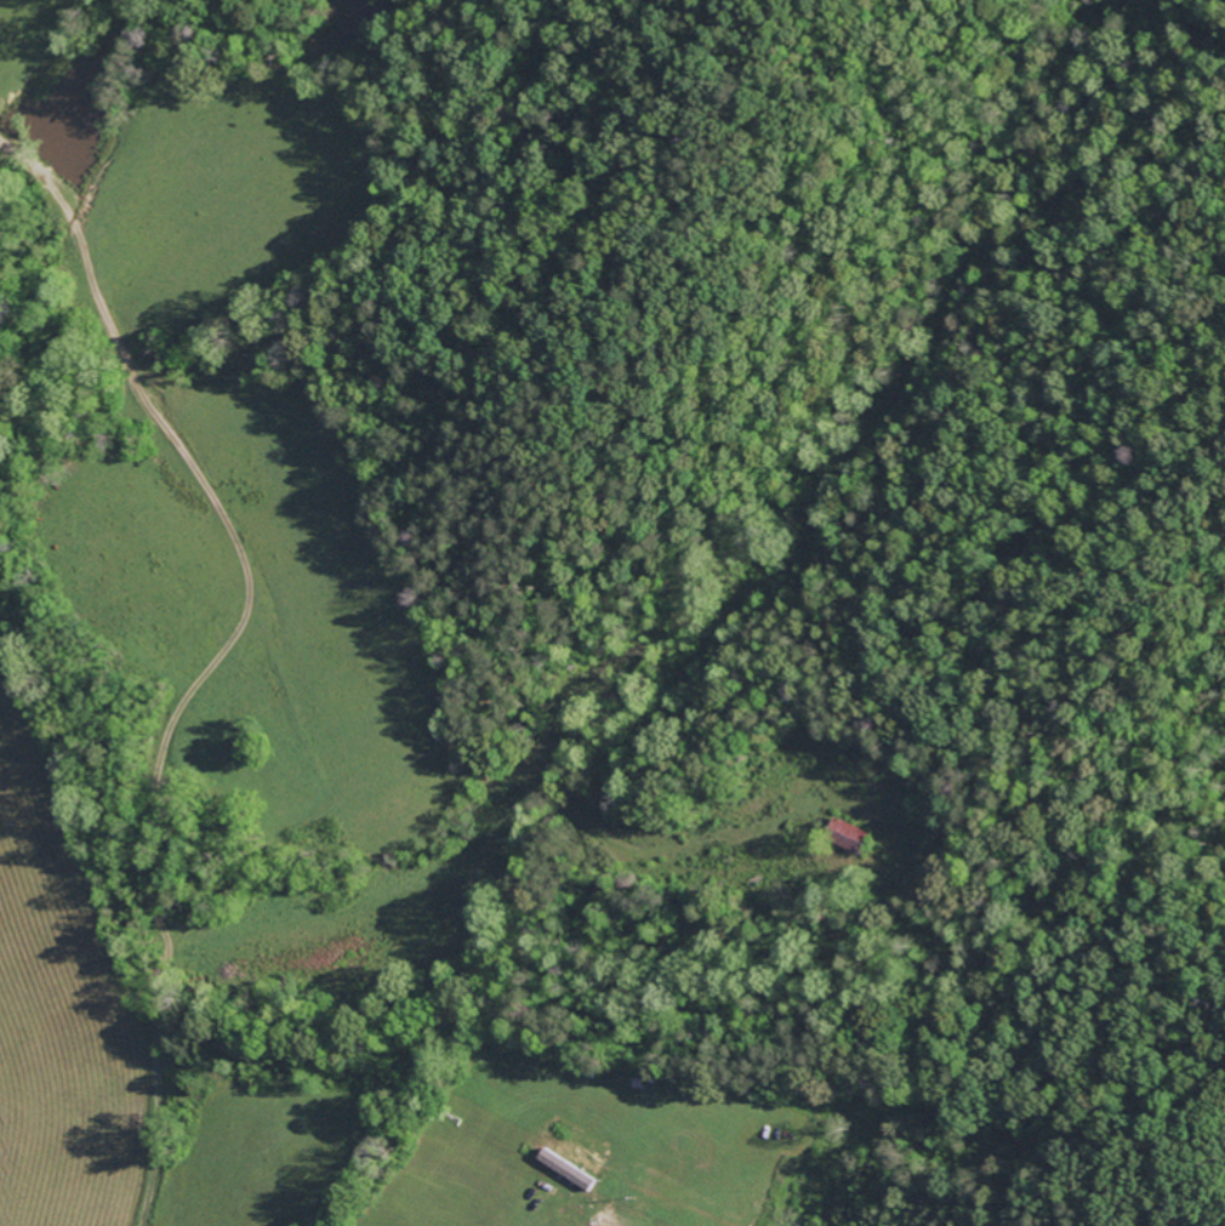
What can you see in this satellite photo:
building: (849, 838)
building: (565, 1170)

